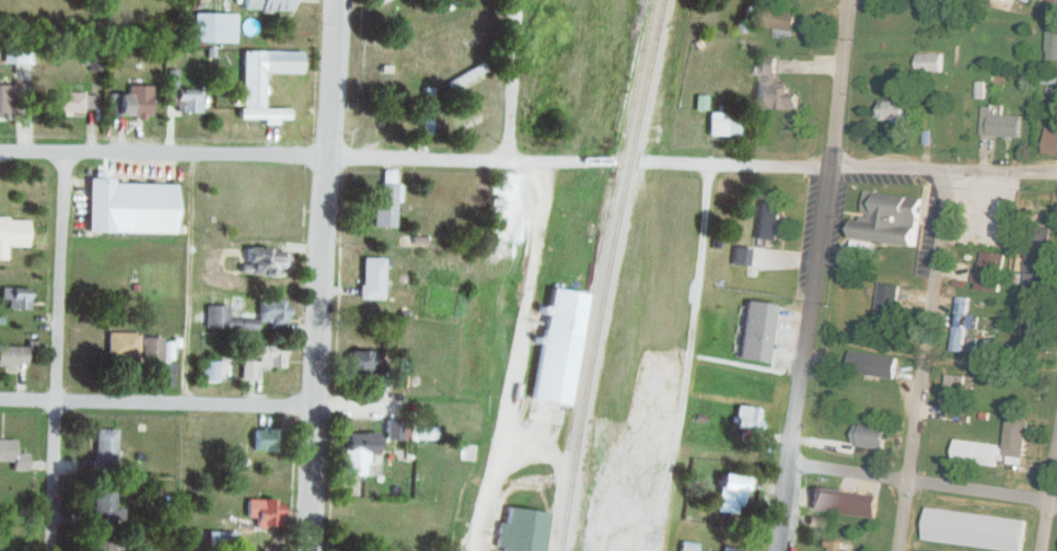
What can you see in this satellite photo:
building: (376, 0)
building: (1027, 0)
building: (1055, 0)
building: (448, 2)
building: (264, 4)
building: (774, 17)
building: (205, 27)
building: (1052, 42)
building: (15, 55)
building: (696, 58)
building: (92, 61)
building: (929, 62)
road: (509, 80)
building: (773, 87)
building: (248, 90)
building: (4, 98)
building: (187, 99)
building: (71, 102)
building: (129, 102)
building: (893, 108)
building: (423, 109)
building: (725, 124)
building: (999, 124)
building: (1050, 140)
road: (528, 160)
building: (383, 204)
building: (128, 207)
building: (890, 219)
building: (767, 221)
road: (704, 226)
building: (12, 233)
building: (741, 256)
building: (1037, 258)
building: (262, 261)
building: (989, 271)
railway: (595, 274)
railway: (607, 274)
road: (810, 274)
road: (318, 275)
building: (369, 278)
building: (15, 297)
building: (887, 300)
building: (269, 313)
building: (1024, 317)
building: (223, 319)
building: (962, 324)
building: (757, 331)
building: (121, 344)
building: (558, 347)
building: (150, 349)
building: (165, 350)
road: (57, 352)
building: (12, 355)
road: (924, 359)
building: (254, 360)
building: (359, 362)
building: (871, 364)
building: (207, 371)
road: (509, 380)
building: (953, 394)
road: (155, 402)
road: (367, 410)
building: (747, 419)
road: (678, 420)
building: (391, 430)
building: (423, 433)
building: (869, 436)
building: (1015, 437)
building: (263, 439)
building: (105, 447)
building: (355, 453)
building: (978, 453)
building: (12, 455)
road: (922, 486)
building: (730, 494)
building: (844, 502)
road: (1048, 506)
building: (104, 508)
building: (263, 513)
building: (814, 526)
building: (975, 529)
building: (522, 530)
building: (219, 538)
building: (101, 546)
building: (836, 546)
building: (687, 547)
building: (731, 548)

